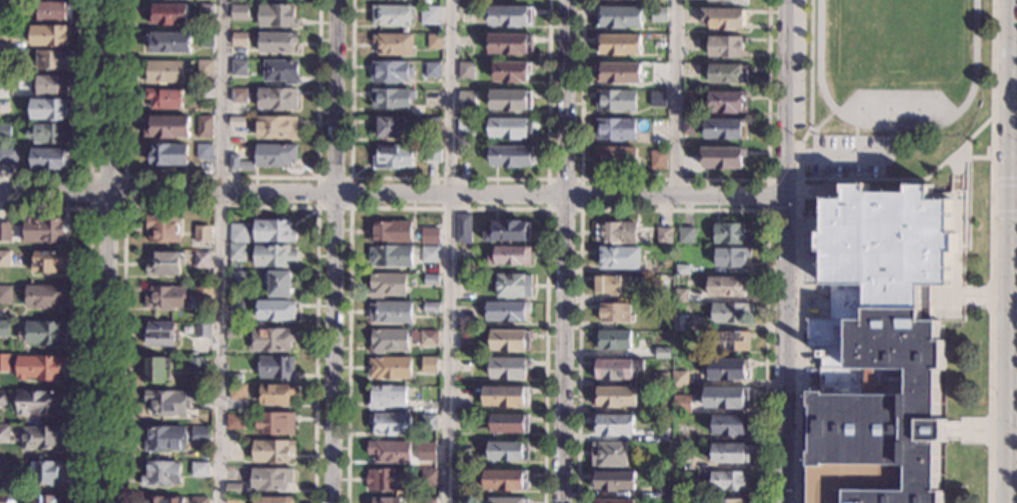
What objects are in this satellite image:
building: (727, 0)
building: (468, 3)
building: (6, 9)
building: (53, 11)
building: (239, 11)
building: (206, 12)
building: (167, 15)
building: (429, 15)
building: (659, 15)
building: (276, 16)
building: (391, 16)
building: (510, 16)
building: (619, 17)
building: (724, 19)
building: (8, 33)
park: (901, 35)
building: (50, 36)
building: (205, 39)
building: (239, 39)
building: (169, 42)
building: (434, 42)
building: (276, 43)
building: (660, 43)
building: (393, 44)
building: (510, 44)
building: (619, 45)
building: (724, 47)
building: (4, 57)
building: (54, 60)
parking lot: (799, 63)
building: (205, 68)
building: (239, 68)
building: (432, 70)
building: (466, 70)
building: (281, 71)
building: (390, 71)
building: (164, 72)
building: (511, 72)
building: (619, 73)
building: (658, 73)
building: (728, 73)
building: (53, 84)
building: (5, 85)
building: (204, 93)
building: (238, 96)
road: (676, 97)
building: (465, 98)
building: (164, 99)
building: (277, 99)
building: (391, 99)
building: (657, 99)
building: (511, 100)
building: (616, 100)
building: (690, 100)
building: (727, 102)
park: (864, 103)
park: (894, 103)
park: (921, 103)
building: (5, 107)
road: (991, 107)
building: (49, 109)
road: (823, 121)
building: (237, 122)
building: (658, 124)
building: (433, 125)
building: (388, 126)
building: (466, 126)
building: (167, 127)
building: (204, 127)
building: (276, 127)
building: (689, 127)
track: (897, 127)
building: (508, 128)
building: (725, 129)
building: (616, 130)
building: (5, 131)
road: (89, 132)
building: (51, 134)
building: (204, 152)
building: (433, 154)
building: (167, 155)
building: (275, 155)
building: (8, 156)
building: (510, 156)
parking lot: (848, 156)
building: (393, 157)
road: (970, 157)
building: (617, 158)
building: (722, 158)
building: (49, 159)
building: (658, 160)
building: (234, 163)
road: (957, 165)
road: (221, 176)
road: (908, 178)
road: (450, 179)
road: (673, 180)
road: (1004, 181)
road: (394, 193)
road: (766, 195)
road: (1012, 199)
road: (967, 204)
road: (219, 205)
road: (88, 206)
road: (349, 207)
road: (447, 208)
road: (546, 208)
road: (672, 209)
road: (1004, 215)
building: (463, 228)
building: (163, 229)
building: (43, 230)
building: (273, 231)
building: (390, 231)
building: (509, 231)
building: (5, 232)
road: (961, 232)
building: (616, 233)
building: (202, 234)
building: (238, 234)
building: (732, 234)
building: (663, 235)
building: (430, 236)
building: (686, 236)
road: (799, 250)
road: (106, 251)
road: (220, 251)
road: (333, 251)
road: (449, 251)
road: (564, 251)
road: (786, 251)
road: (1006, 251)
building: (236, 252)
building: (465, 253)
building: (430, 255)
building: (273, 256)
building: (391, 256)
building: (509, 256)
building: (730, 257)
building: (618, 258)
building: (5, 259)
building: (201, 260)
building: (48, 262)
building: (165, 263)
building: (682, 270)
building: (236, 280)
building: (431, 280)
building: (279, 284)
building: (387, 285)
building: (612, 285)
building: (513, 286)
building: (728, 286)
building: (5, 294)
building: (926, 295)
building: (46, 296)
building: (680, 296)
building: (203, 297)
building: (166, 298)
building: (234, 306)
building: (676, 307)
building: (431, 308)
road: (88, 310)
building: (275, 310)
building: (506, 311)
building: (391, 312)
building: (615, 313)
building: (730, 313)
building: (680, 323)
building: (4, 329)
building: (202, 330)
building: (44, 333)
building: (233, 333)
building: (161, 334)
building: (428, 338)
building: (272, 340)
building: (612, 340)
building: (388, 341)
building: (510, 341)
building: (730, 341)
building: (880, 348)
building: (662, 353)
road: (989, 358)
building: (4, 363)
building: (196, 365)
building: (429, 366)
building: (39, 368)
building: (277, 368)
building: (390, 368)
building: (508, 368)
building: (156, 369)
building: (615, 369)
building: (728, 369)
building: (234, 379)
building: (660, 379)
building: (679, 379)
building: (237, 392)
building: (276, 395)
building: (386, 397)
building: (462, 397)
building: (506, 397)
building: (613, 397)
building: (726, 398)
building: (4, 399)
building: (172, 402)
building: (39, 403)
building: (682, 405)
building: (660, 407)
building: (234, 422)
building: (462, 422)
building: (275, 423)
building: (429, 423)
building: (510, 423)
building: (391, 424)
building: (729, 425)
building: (612, 426)
building: (4, 432)
building: (200, 435)
building: (662, 435)
building: (41, 438)
building: (165, 439)
building: (462, 450)
building: (428, 451)
building: (508, 451)
building: (272, 452)
building: (389, 452)
building: (730, 453)
building: (609, 455)
building: (3, 468)
building: (200, 470)
building: (46, 472)
building: (161, 474)
building: (429, 478)
building: (270, 479)
building: (387, 480)
building: (462, 480)
building: (506, 481)
building: (614, 481)
building: (729, 481)
building: (233, 489)
building: (662, 491)
building: (3, 499)
building: (45, 499)
building: (235, 499)
building: (162, 500)
building: (199, 500)
building: (273, 500)
building: (509, 500)
building: (383, 501)
building: (429, 501)
building: (462, 501)
building: (707, 501)
building: (729, 501)
building: (613, 502)

